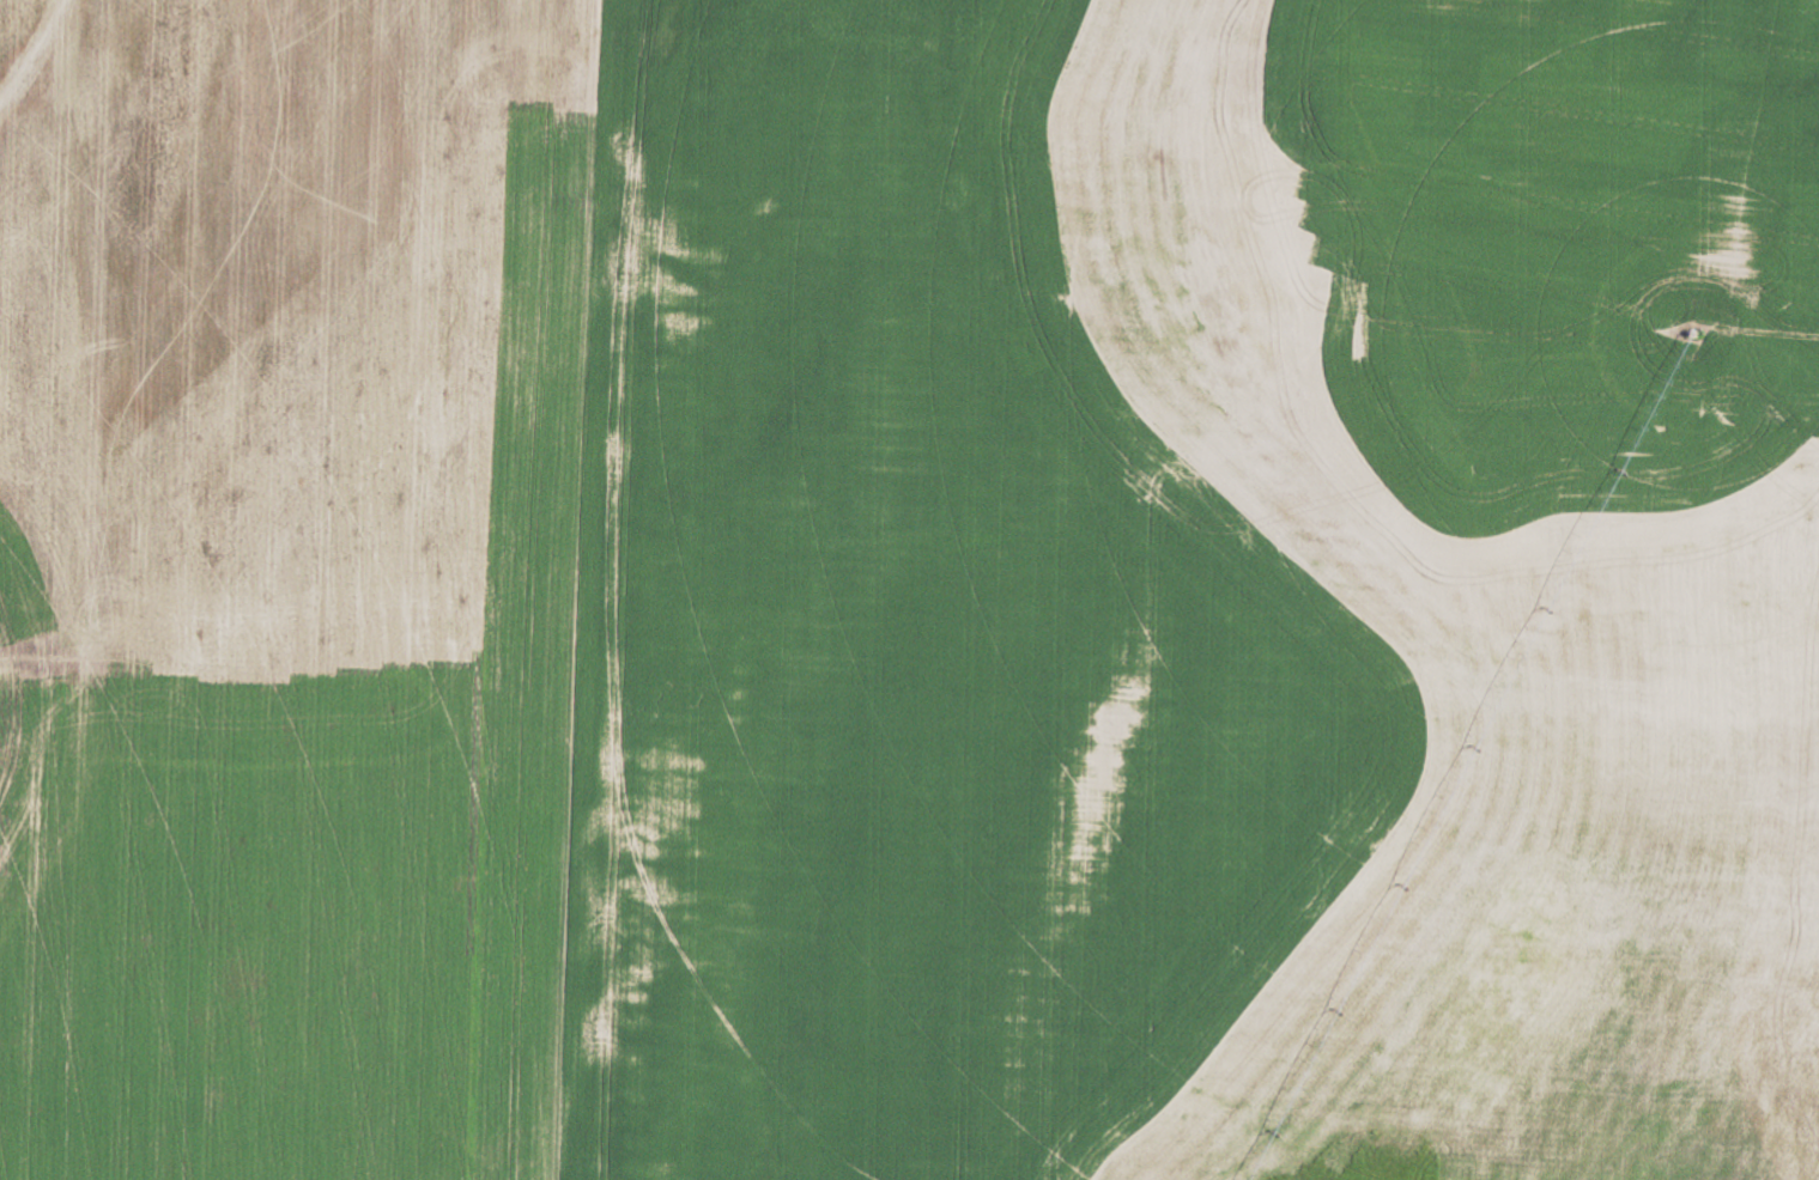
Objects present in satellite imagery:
road: (1505, 188)
road: (629, 589)

